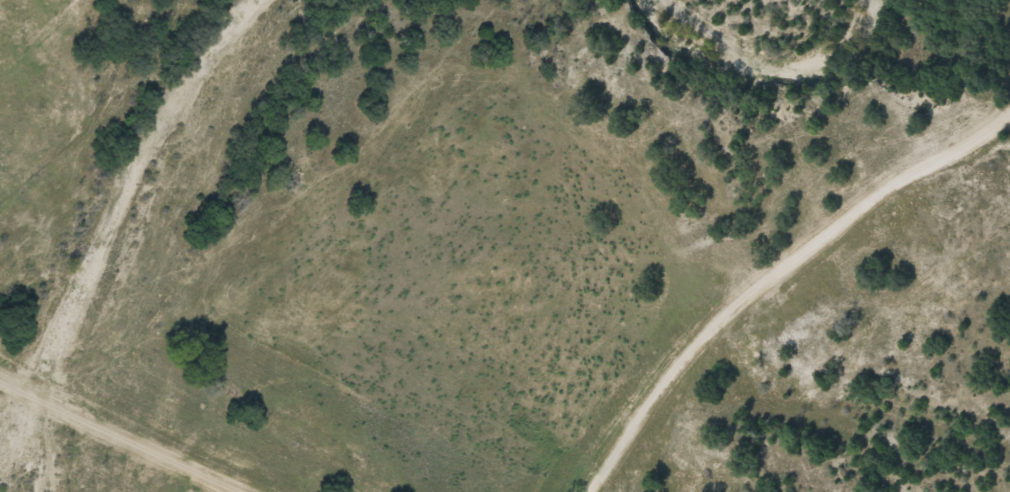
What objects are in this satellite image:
road: (769, 274)

